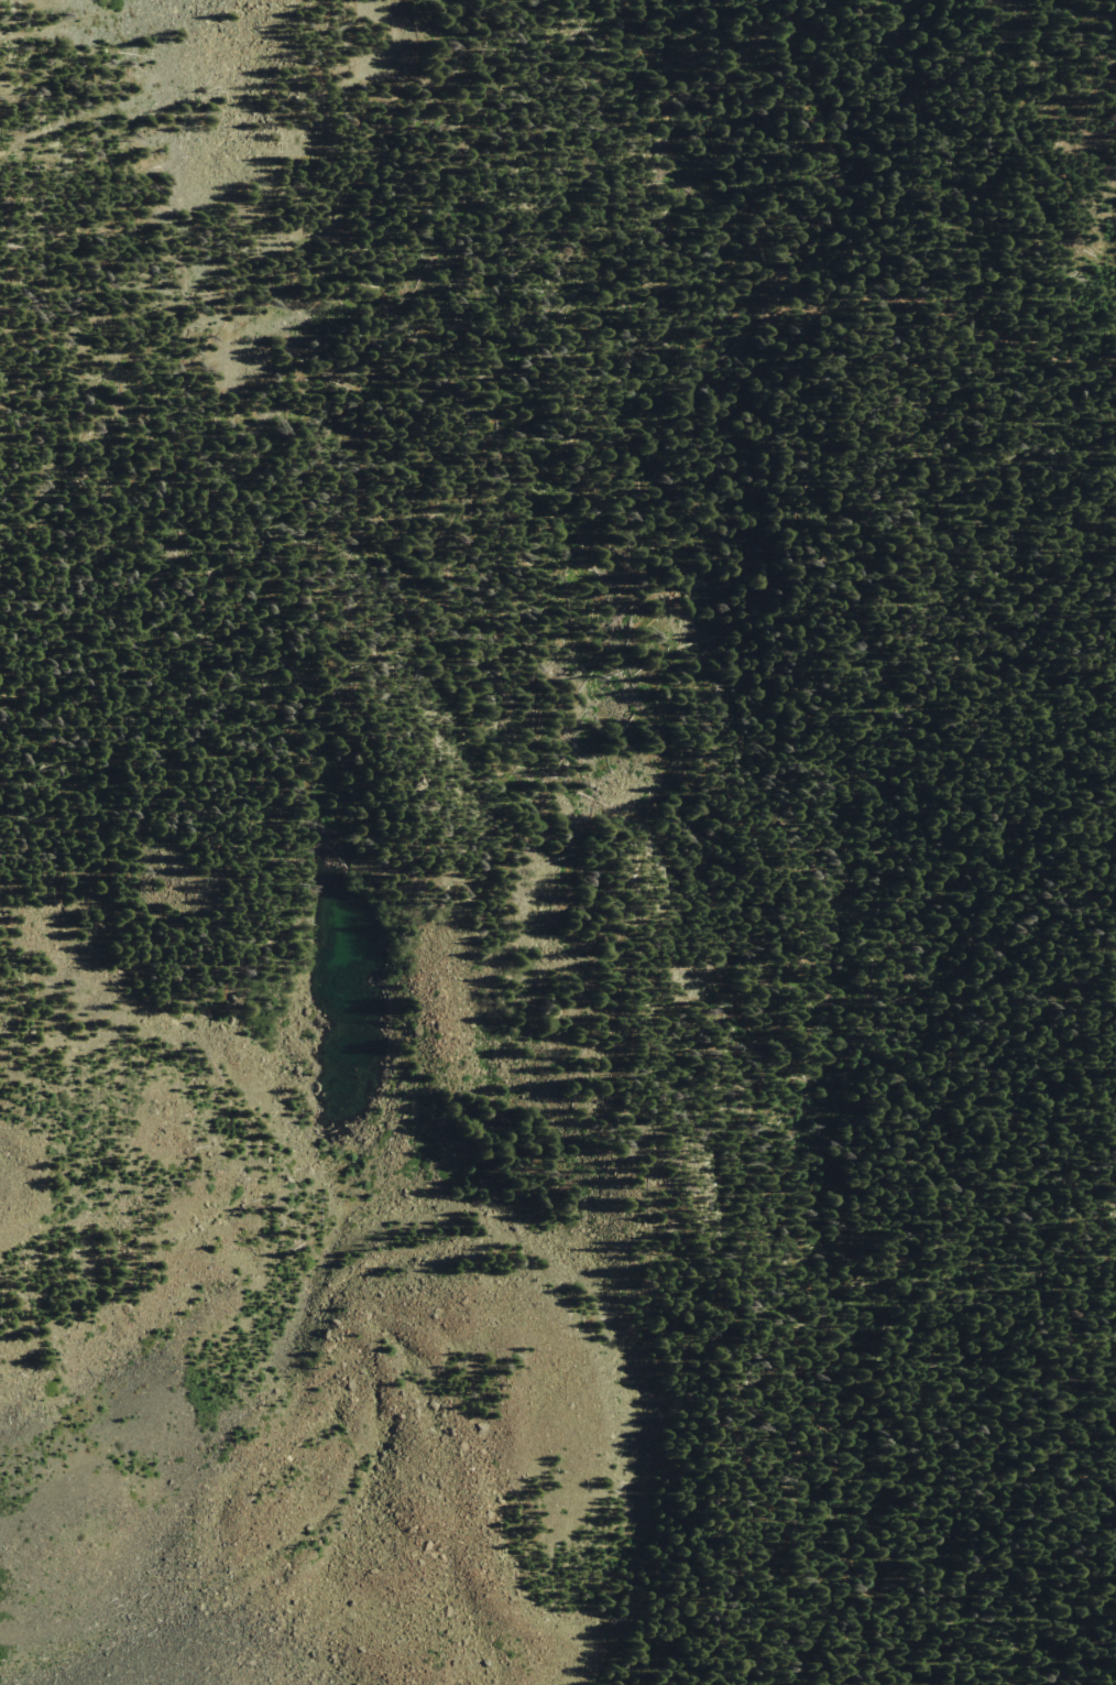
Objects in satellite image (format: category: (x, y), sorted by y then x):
ski resort: (286, 21)
road: (770, 249)

